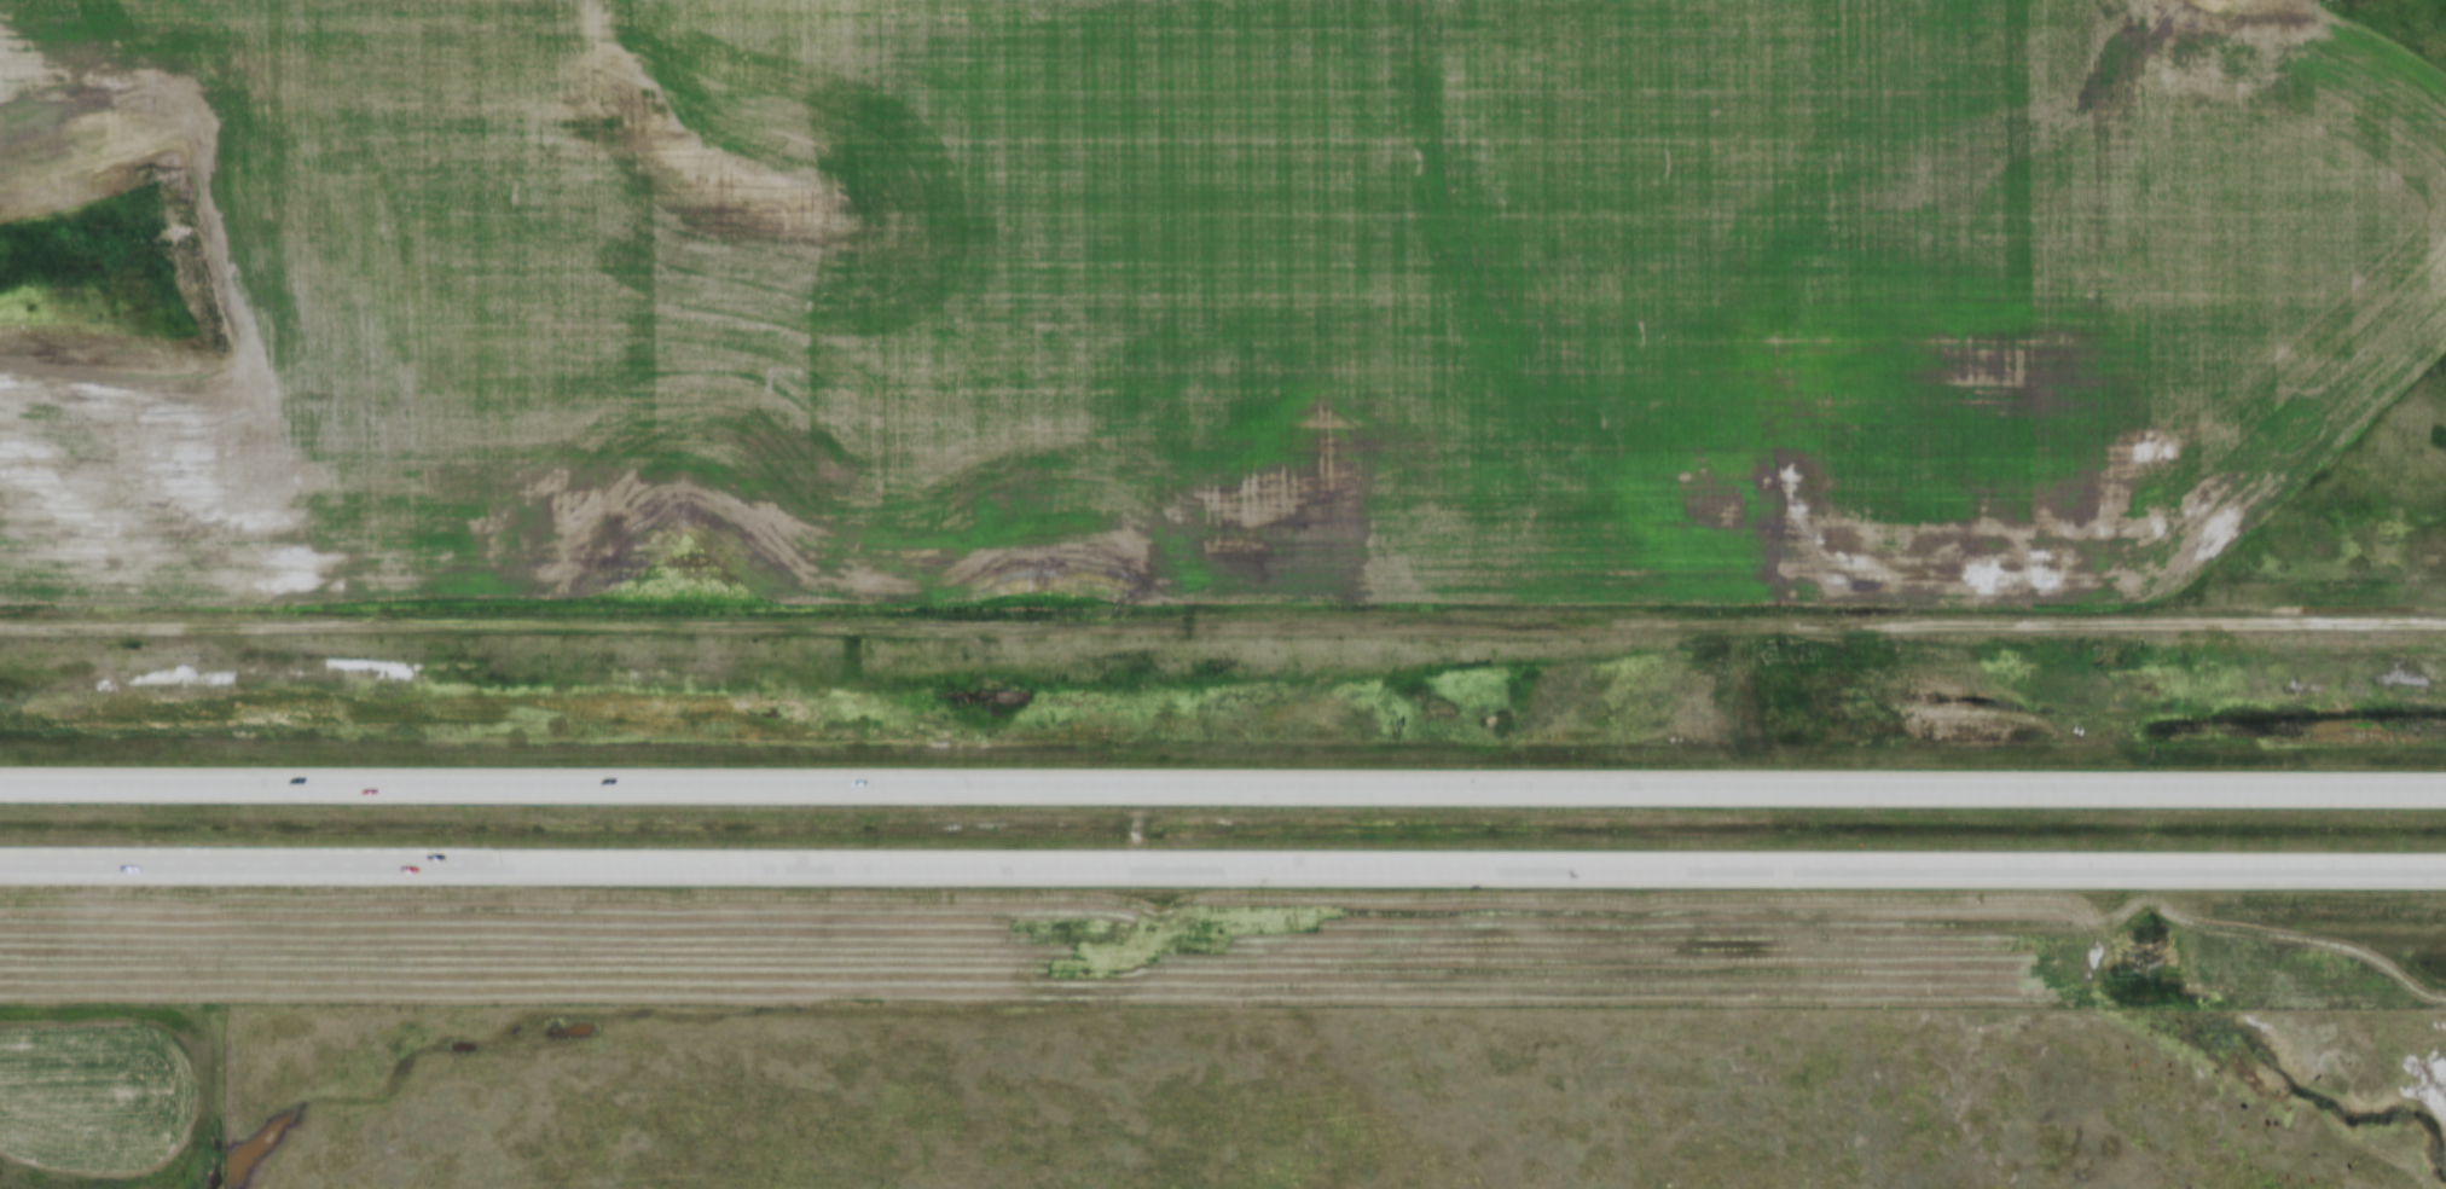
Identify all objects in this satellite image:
road: (1223, 619)
road: (1222, 788)
road: (1222, 865)

